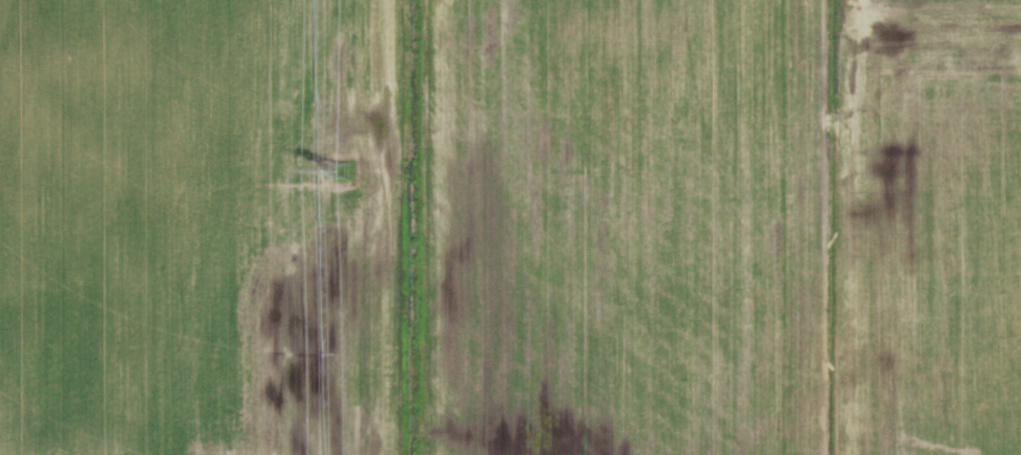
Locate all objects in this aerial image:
power tower: (341, 169)

